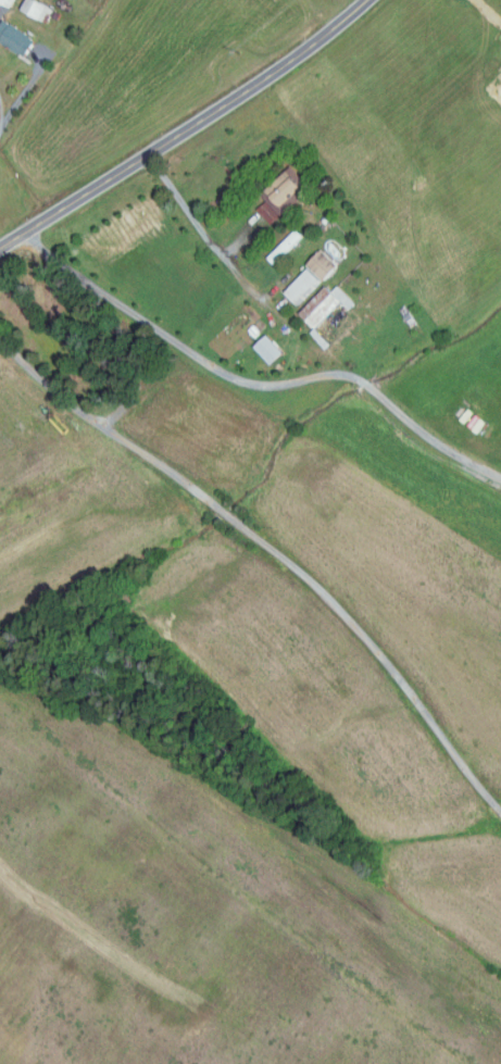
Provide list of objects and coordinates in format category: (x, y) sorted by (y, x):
building: (8, 2)
building: (38, 9)
building: (15, 37)
road: (185, 128)
building: (286, 186)
building: (266, 209)
road: (208, 238)
building: (323, 264)
building: (302, 285)
building: (325, 304)
building: (270, 349)
road: (255, 384)
road: (261, 551)

